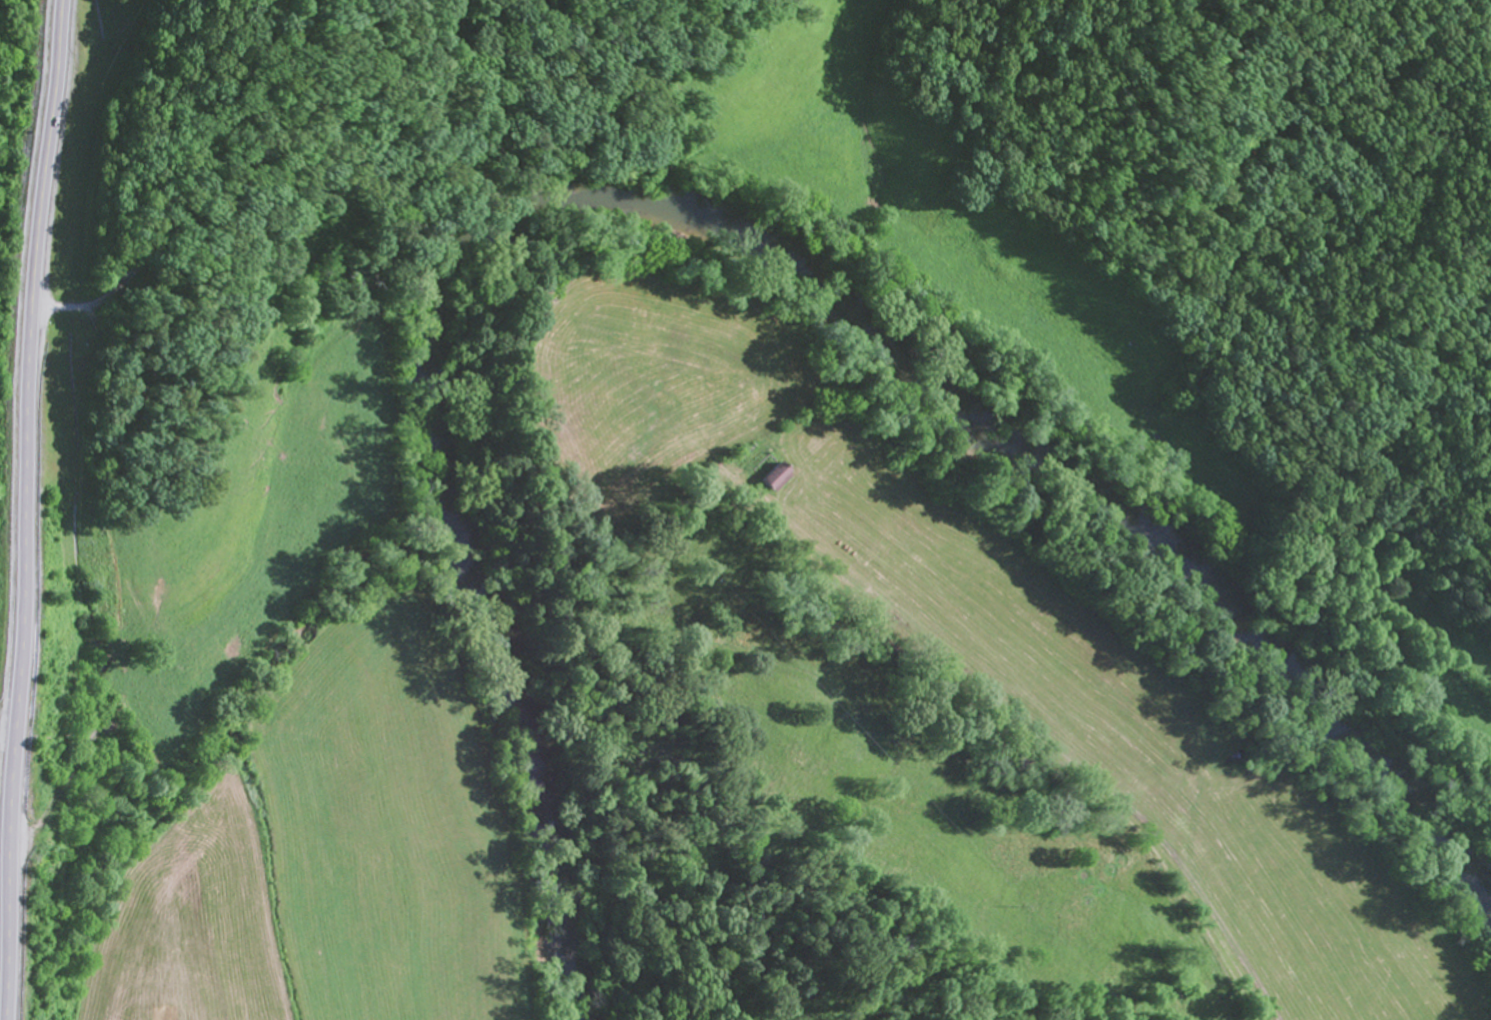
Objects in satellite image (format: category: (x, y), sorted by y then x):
river: (701, 222)
building: (778, 477)
road: (18, 507)

